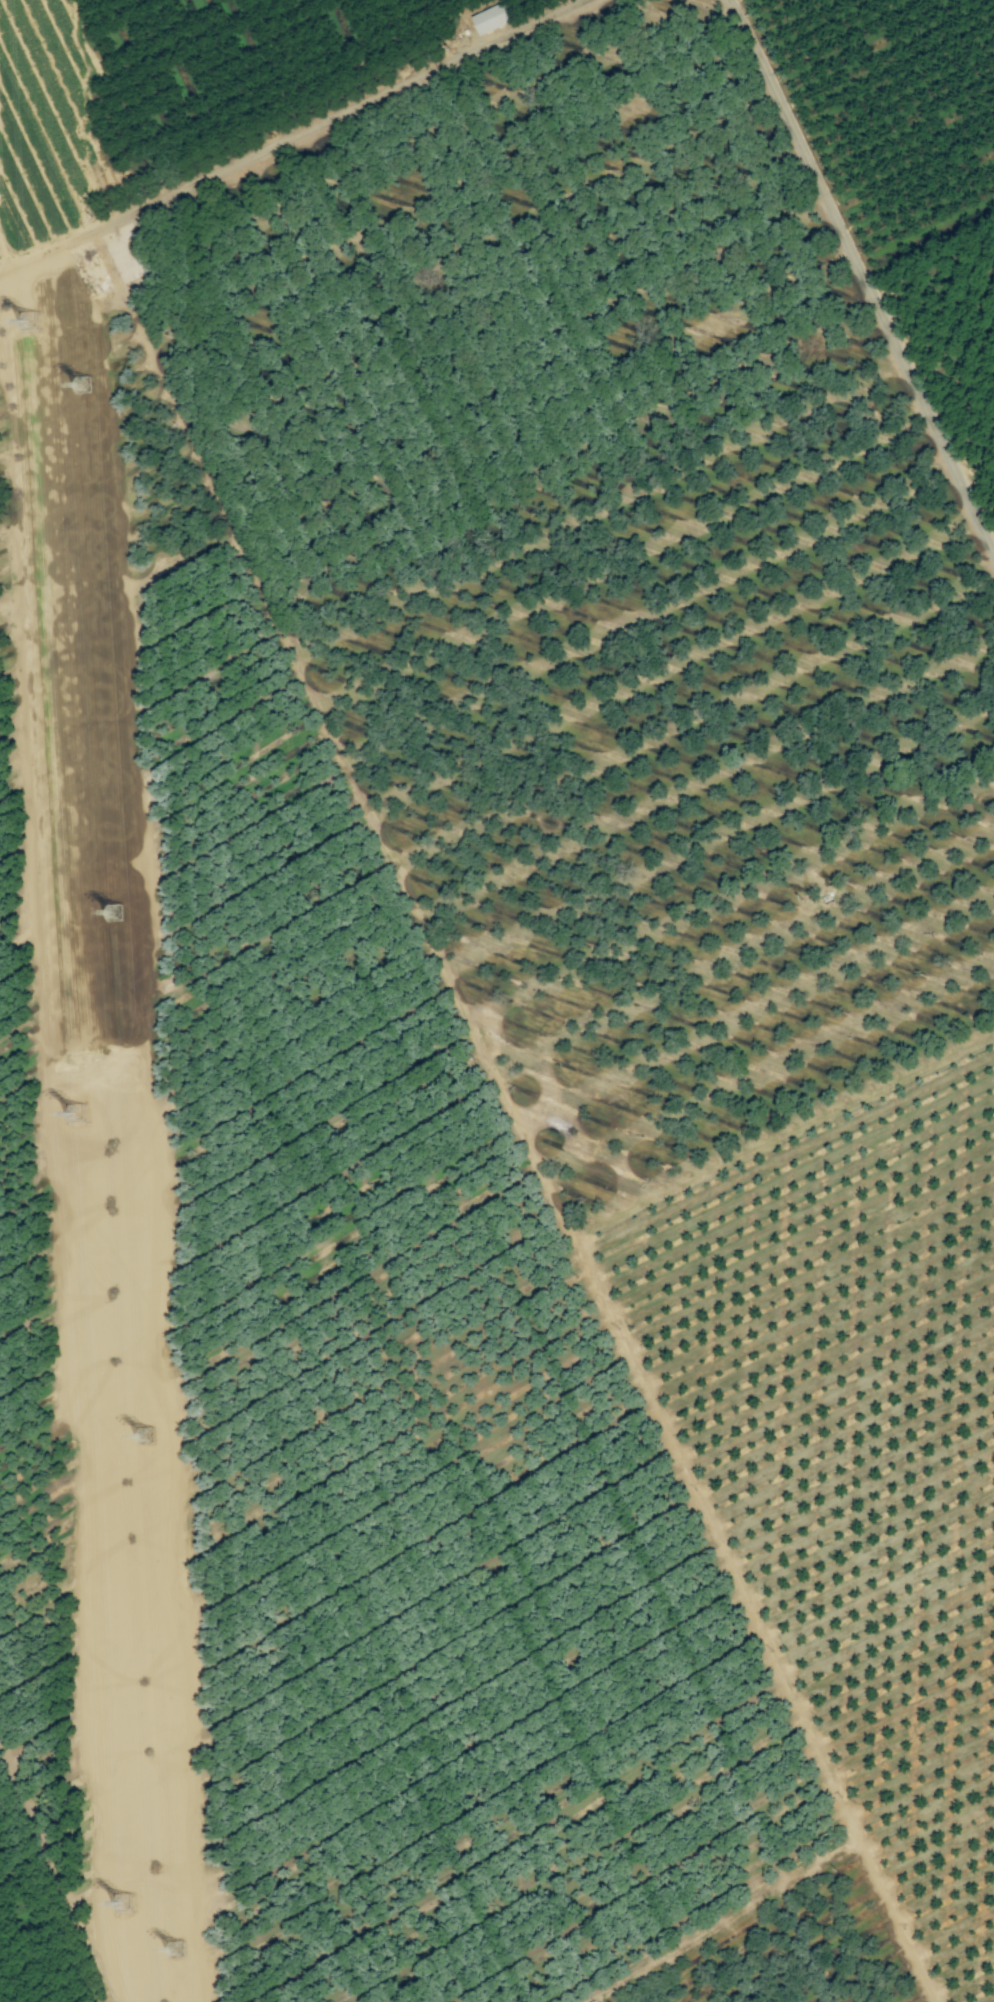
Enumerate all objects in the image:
building: (489, 19)
road: (863, 277)
power tower: (33, 323)
power tower: (87, 387)
power tower: (119, 916)
road: (523, 1079)
power tower: (80, 1117)
power tower: (150, 1438)
power tower: (129, 1906)
power tower: (179, 1952)

